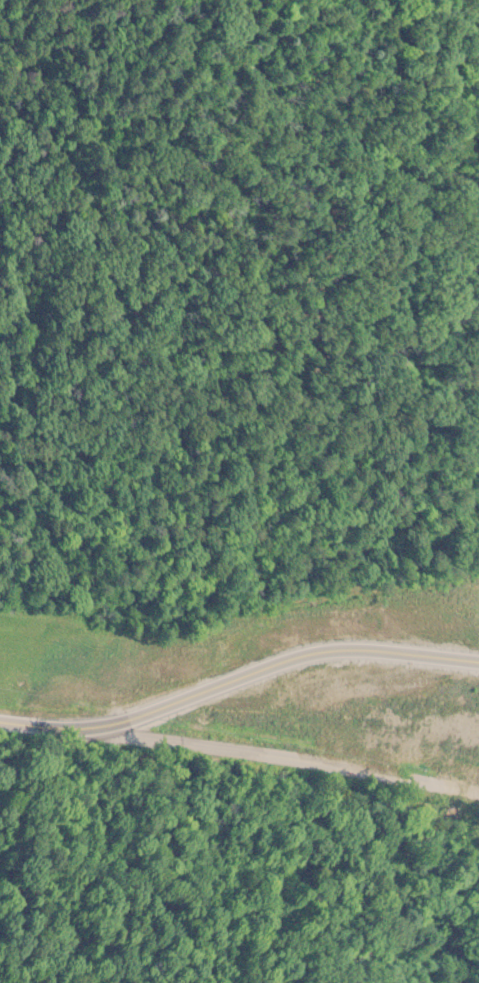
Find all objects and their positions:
road: (236, 675)

